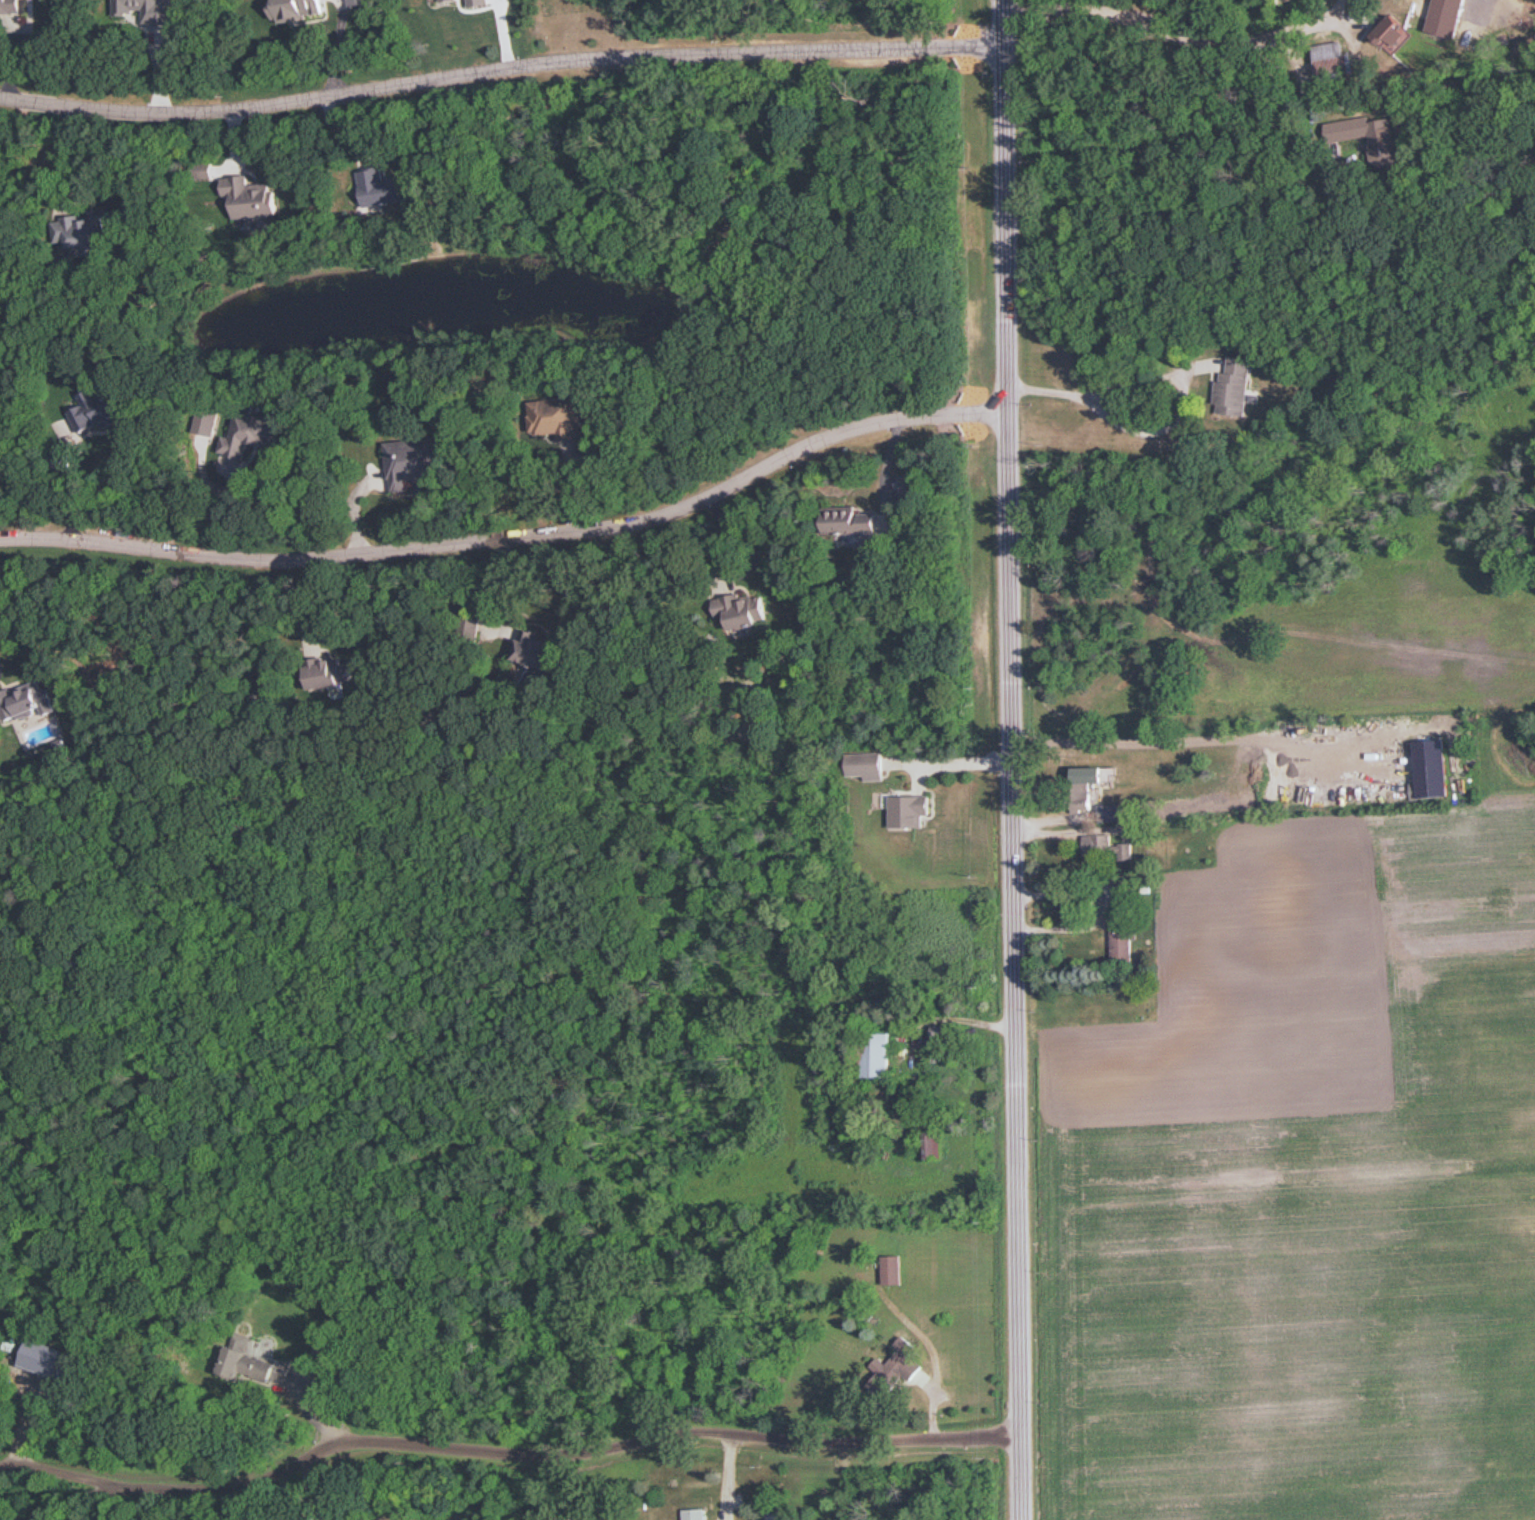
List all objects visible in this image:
building: (11, 6)
building: (1448, 8)
road: (1170, 29)
building: (1395, 35)
road: (493, 68)
building: (1347, 130)
building: (382, 188)
building: (252, 198)
road: (1174, 208)
building: (77, 232)
building: (1237, 388)
building: (101, 406)
building: (550, 415)
road: (1159, 426)
building: (249, 433)
building: (409, 465)
road: (73, 481)
road: (223, 491)
building: (858, 520)
road: (512, 530)
road: (731, 564)
road: (494, 587)
building: (747, 608)
building: (470, 625)
building: (536, 648)
building: (331, 672)
building: (22, 700)
road: (1008, 759)
building: (870, 764)
building: (1083, 794)
building: (910, 810)
building: (1110, 811)
building: (1107, 847)
building: (1125, 891)
building: (1124, 941)
building: (942, 1041)
building: (876, 1054)
building: (937, 1145)
building: (893, 1270)
building: (899, 1368)
road: (554, 1455)
road: (95, 1490)
building: (696, 1513)
building: (775, 1515)

